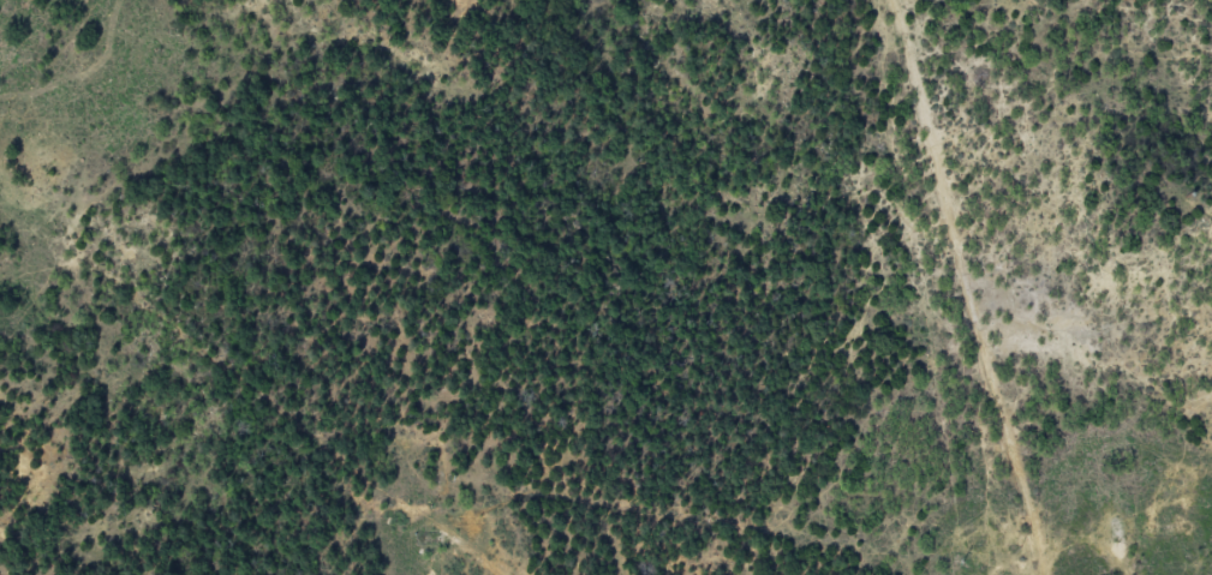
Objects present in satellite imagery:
road: (1013, 287)

